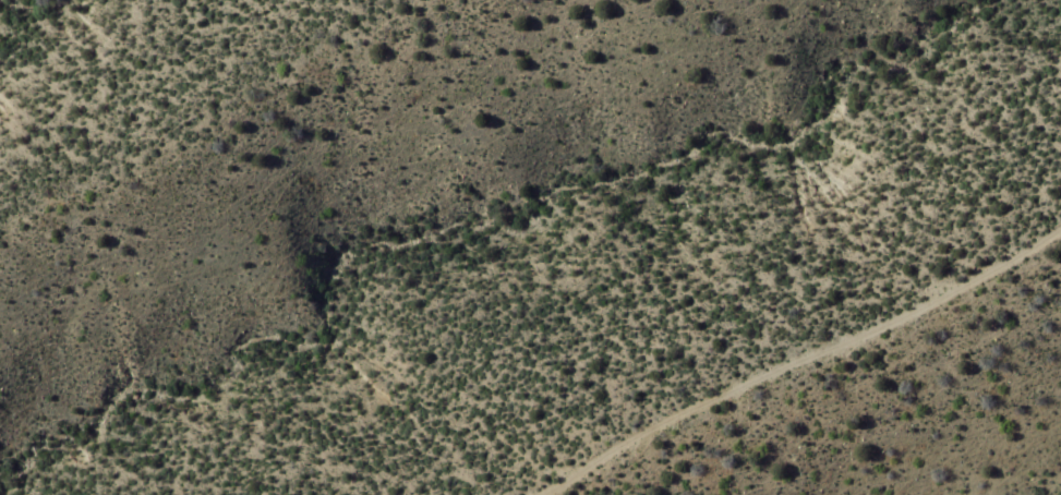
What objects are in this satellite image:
road: (798, 358)

